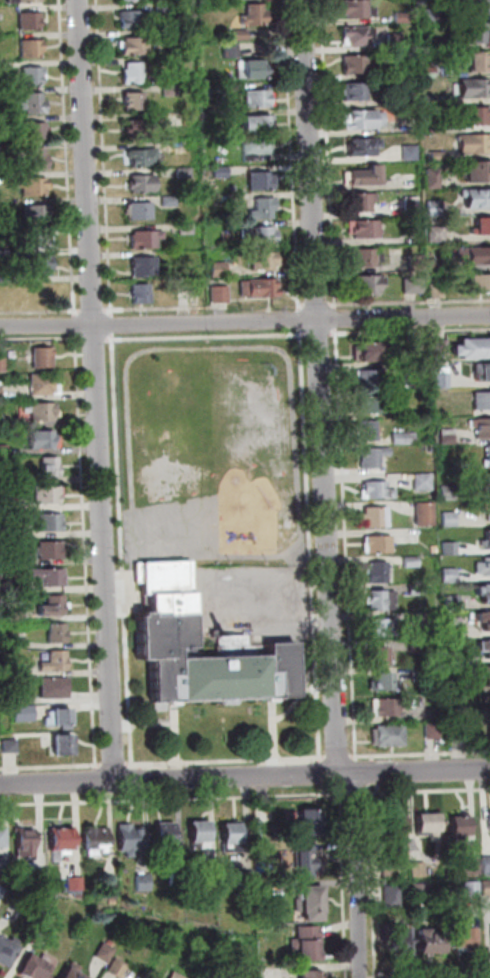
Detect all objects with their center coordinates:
building: (30, 1)
building: (470, 6)
building: (165, 7)
building: (353, 8)
building: (256, 12)
building: (427, 12)
building: (400, 15)
building: (131, 16)
building: (31, 19)
building: (473, 32)
building: (241, 35)
building: (356, 35)
building: (396, 41)
building: (435, 41)
building: (135, 42)
building: (32, 46)
building: (232, 50)
building: (476, 61)
building: (357, 62)
building: (4, 66)
building: (256, 67)
building: (133, 70)
building: (427, 70)
building: (399, 71)
building: (34, 72)
building: (473, 86)
building: (172, 90)
building: (359, 90)
building: (215, 91)
building: (259, 95)
building: (429, 98)
building: (135, 99)
building: (403, 100)
building: (36, 101)
building: (476, 113)
building: (364, 118)
building: (259, 121)
building: (407, 125)
building: (141, 128)
building: (436, 128)
building: (33, 129)
building: (474, 141)
building: (222, 144)
building: (257, 144)
building: (362, 146)
building: (407, 152)
building: (142, 155)
building: (438, 156)
building: (30, 157)
road: (328, 168)
building: (479, 170)
building: (223, 172)
building: (185, 173)
building: (362, 175)
building: (407, 177)
building: (435, 178)
building: (261, 179)
building: (144, 182)
building: (34, 185)
building: (481, 198)
building: (226, 199)
building: (363, 200)
building: (171, 201)
building: (411, 203)
building: (265, 205)
building: (435, 207)
building: (139, 208)
building: (36, 212)
building: (483, 222)
building: (368, 225)
building: (188, 229)
building: (265, 234)
building: (438, 234)
building: (42, 236)
building: (146, 236)
building: (4, 250)
building: (479, 255)
building: (364, 256)
building: (265, 258)
building: (419, 263)
building: (440, 264)
building: (145, 266)
building: (220, 269)
building: (5, 277)
building: (481, 281)
building: (370, 282)
building: (416, 285)
building: (263, 286)
building: (142, 291)
building: (438, 291)
building: (221, 294)
road: (409, 300)
road: (314, 302)
road: (197, 306)
road: (47, 309)
road: (245, 322)
road: (316, 332)
road: (201, 335)
road: (38, 338)
building: (438, 346)
building: (472, 348)
building: (374, 351)
building: (43, 355)
building: (4, 365)
building: (412, 370)
building: (483, 371)
building: (370, 379)
road: (303, 380)
building: (444, 380)
building: (43, 382)
road: (322, 387)
road: (100, 389)
building: (2, 393)
building: (480, 399)
building: (374, 405)
building: (43, 409)
building: (2, 421)
building: (481, 427)
road: (80, 430)
building: (369, 431)
building: (447, 436)
building: (42, 437)
building: (403, 438)
building: (5, 450)
building: (372, 456)
building: (487, 456)
building: (49, 466)
road: (343, 466)
building: (5, 475)
road: (118, 481)
building: (483, 481)
building: (425, 482)
building: (377, 487)
building: (48, 493)
building: (450, 493)
building: (6, 503)
building: (489, 509)
building: (376, 515)
building: (427, 515)
building: (51, 519)
building: (452, 520)
building: (20, 533)
building: (487, 537)
building: (381, 545)
building: (51, 548)
building: (452, 549)
building: (7, 558)
building: (413, 562)
building: (486, 564)
building: (478, 567)
building: (377, 571)
building: (47, 575)
building: (452, 575)
building: (9, 585)
building: (419, 590)
building: (485, 591)
building: (380, 600)
parking lot: (250, 601)
building: (54, 603)
building: (455, 603)
building: (19, 616)
building: (427, 618)
building: (483, 619)
building: (163, 625)
building: (383, 625)
building: (56, 633)
building: (22, 644)
building: (422, 646)
building: (485, 647)
building: (382, 655)
building: (54, 659)
building: (455, 659)
building: (23, 672)
building: (419, 672)
building: (483, 676)
building: (384, 680)
building: (54, 685)
building: (11, 695)
building: (387, 703)
building: (486, 703)
building: (64, 713)
building: (25, 715)
road: (152, 723)
road: (273, 728)
building: (432, 728)
building: (458, 729)
building: (487, 729)
road: (175, 732)
building: (391, 733)
building: (64, 743)
building: (12, 746)
road: (421, 753)
road: (341, 755)
road: (376, 758)
road: (97, 764)
road: (112, 764)
road: (128, 764)
road: (324, 771)
road: (378, 772)
road: (245, 776)
road: (380, 788)
road: (327, 789)
road: (427, 791)
road: (358, 794)
road: (175, 799)
building: (488, 819)
building: (310, 825)
building: (395, 826)
building: (430, 826)
building: (461, 827)
building: (166, 835)
building: (201, 835)
building: (98, 839)
building: (232, 839)
building: (3, 840)
building: (132, 840)
building: (27, 843)
building: (63, 843)
building: (308, 859)
building: (472, 866)
building: (487, 866)
building: (7, 870)
building: (420, 870)
building: (392, 872)
building: (178, 875)
road: (360, 875)
building: (212, 877)
building: (40, 878)
building: (249, 878)
building: (145, 883)
building: (77, 884)
road: (346, 886)
building: (486, 888)
building: (111, 889)
building: (474, 890)
building: (421, 892)
building: (394, 897)
building: (25, 901)
building: (312, 905)
building: (50, 930)
building: (466, 940)
building: (399, 941)
road: (377, 942)
building: (309, 944)
building: (432, 944)
building: (108, 953)
building: (7, 954)
building: (40, 968)
building: (119, 968)
building: (76, 972)
building: (269, 973)
building: (177, 975)
building: (312, 975)

